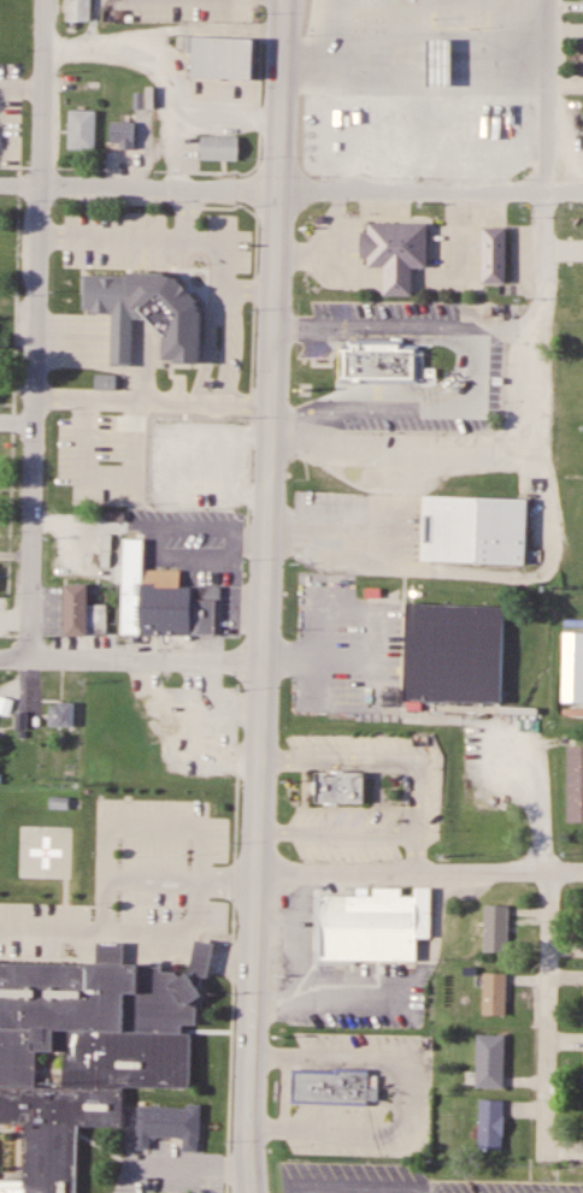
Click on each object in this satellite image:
building: (78, 11)
building: (223, 58)
building: (581, 58)
building: (447, 66)
road: (546, 95)
building: (395, 126)
building: (82, 130)
building: (443, 134)
building: (340, 135)
building: (123, 136)
building: (220, 148)
road: (290, 190)
building: (396, 253)
building: (495, 254)
building: (147, 311)
road: (507, 326)
road: (375, 327)
road: (37, 330)
building: (383, 358)
road: (531, 403)
road: (18, 425)
building: (210, 450)
building: (481, 532)
building: (171, 596)
road: (264, 596)
building: (83, 613)
building: (458, 658)
road: (131, 662)
building: (572, 667)
building: (104, 710)
building: (61, 715)
building: (160, 732)
building: (207, 733)
building: (576, 785)
building: (341, 787)
helipad: (41, 849)
road: (419, 869)
building: (505, 921)
building: (372, 926)
building: (202, 958)
building: (502, 986)
road: (547, 1004)
building: (499, 1052)
building: (84, 1056)
building: (346, 1077)
building: (499, 1115)
building: (169, 1126)

